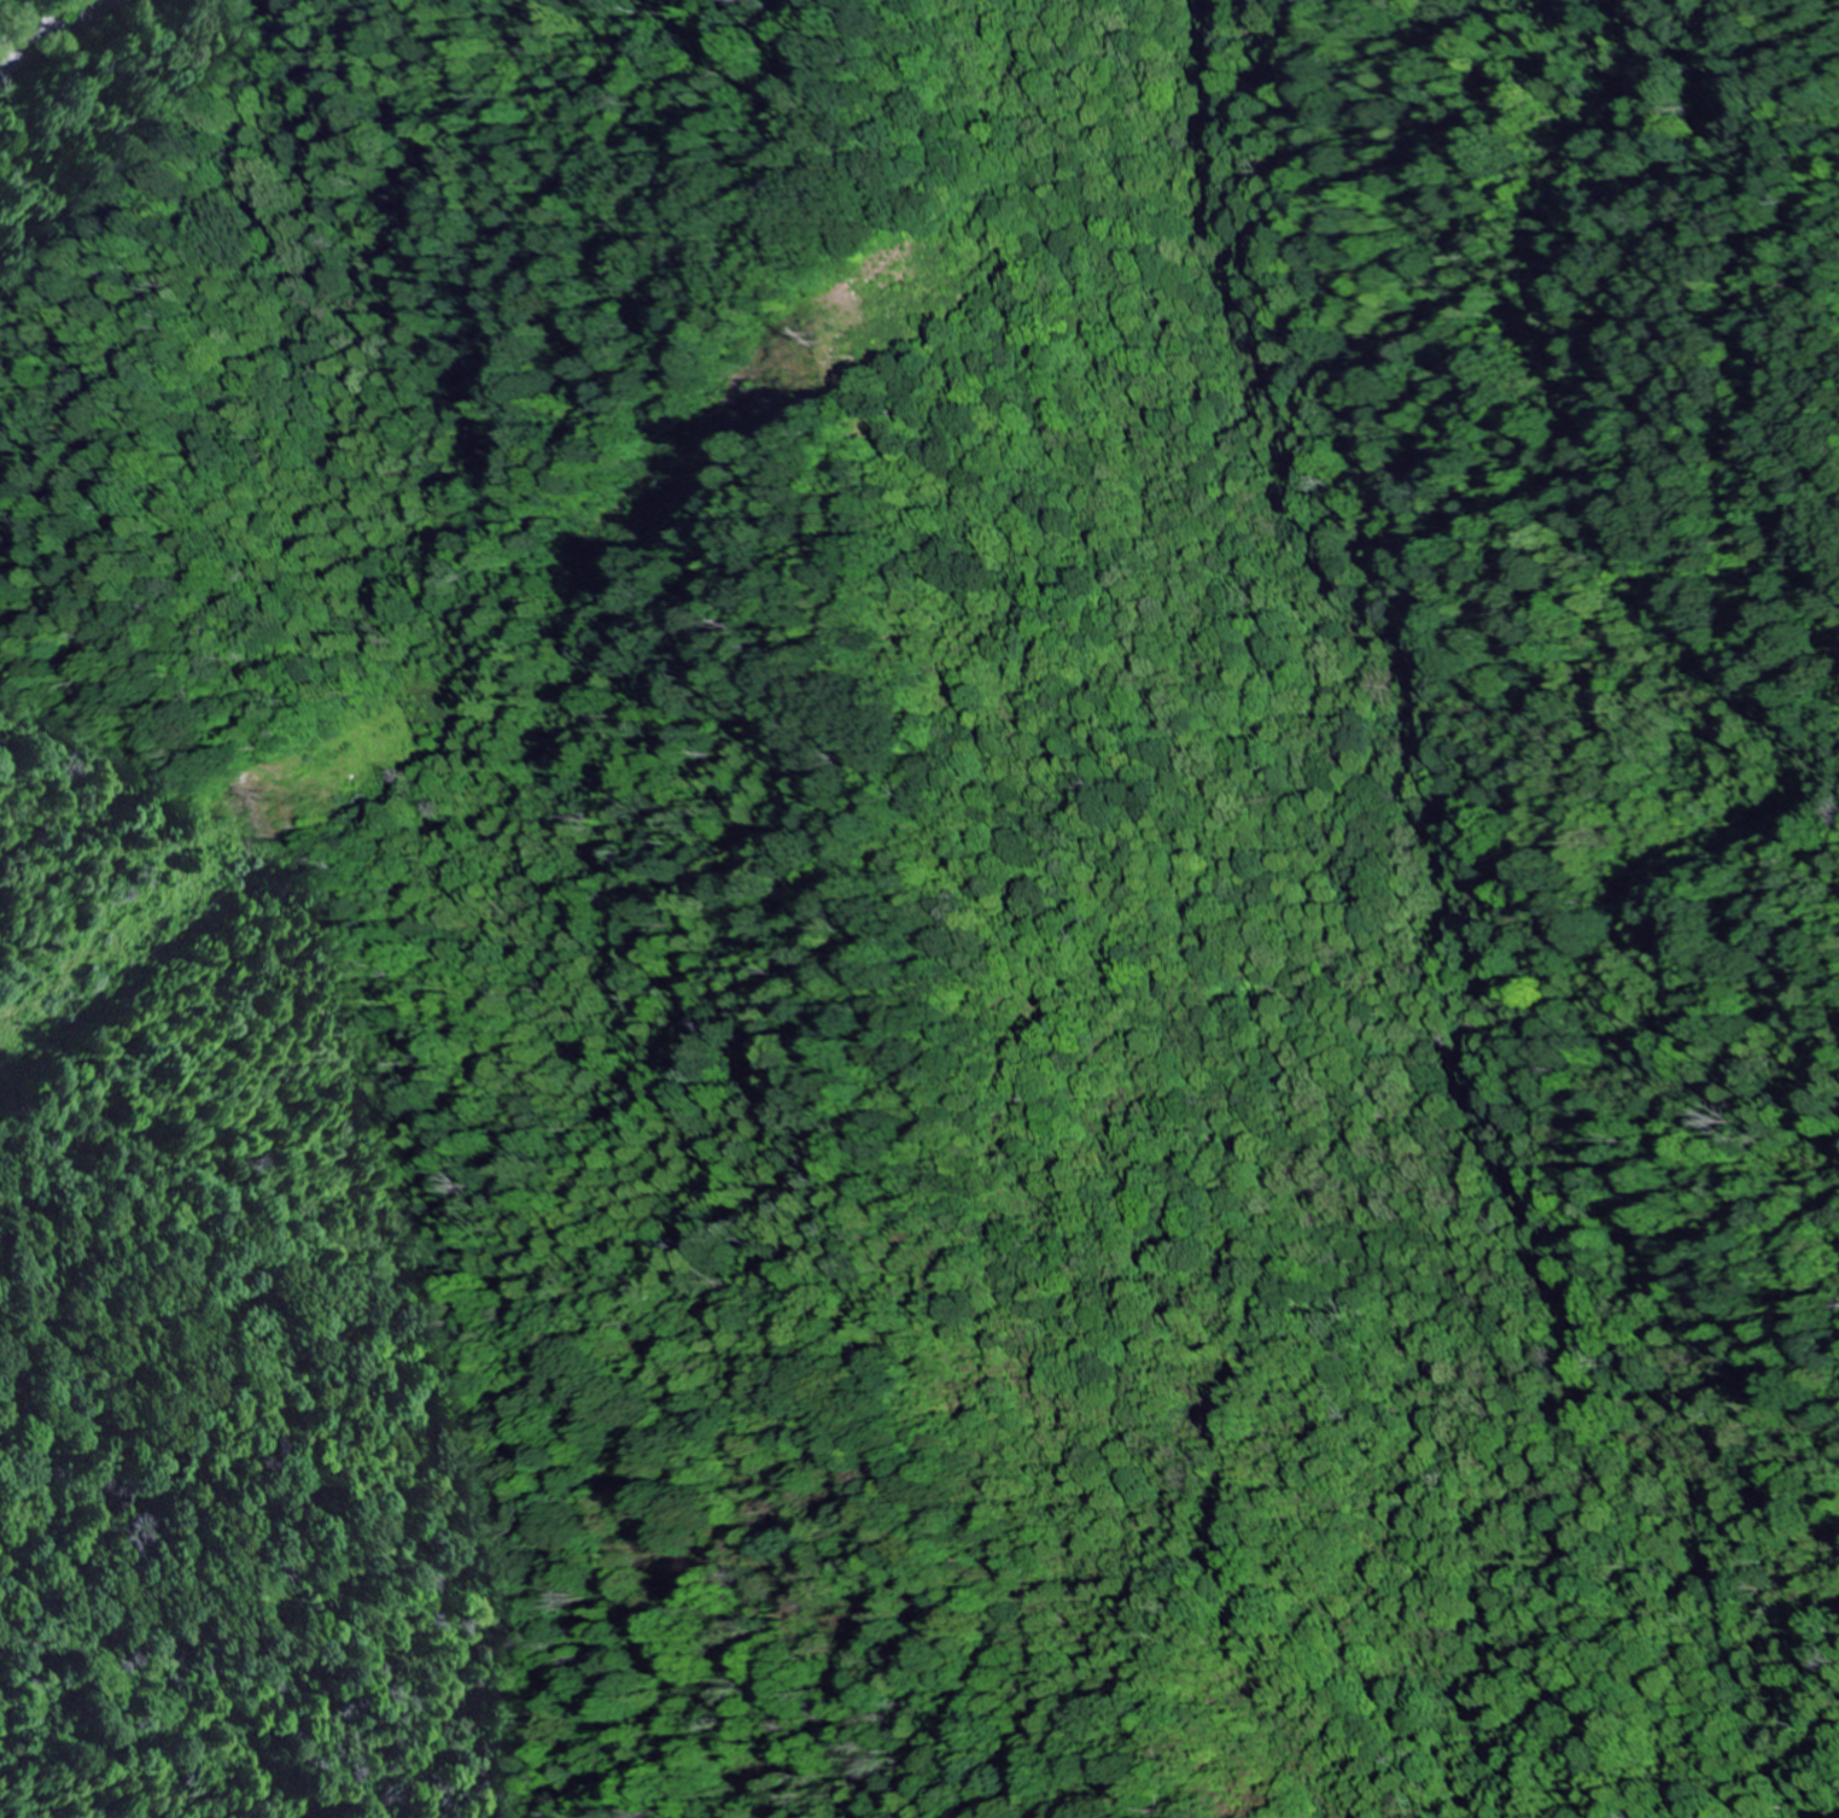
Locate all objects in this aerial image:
river: (57, 29)
power tower: (813, 337)

